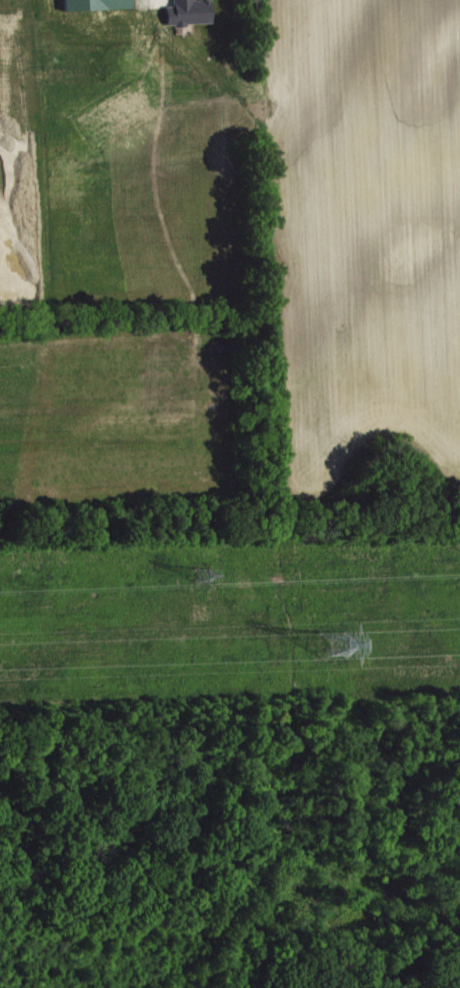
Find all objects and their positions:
building: (100, 4)
building: (192, 12)
power tower: (200, 574)
power tower: (331, 643)

